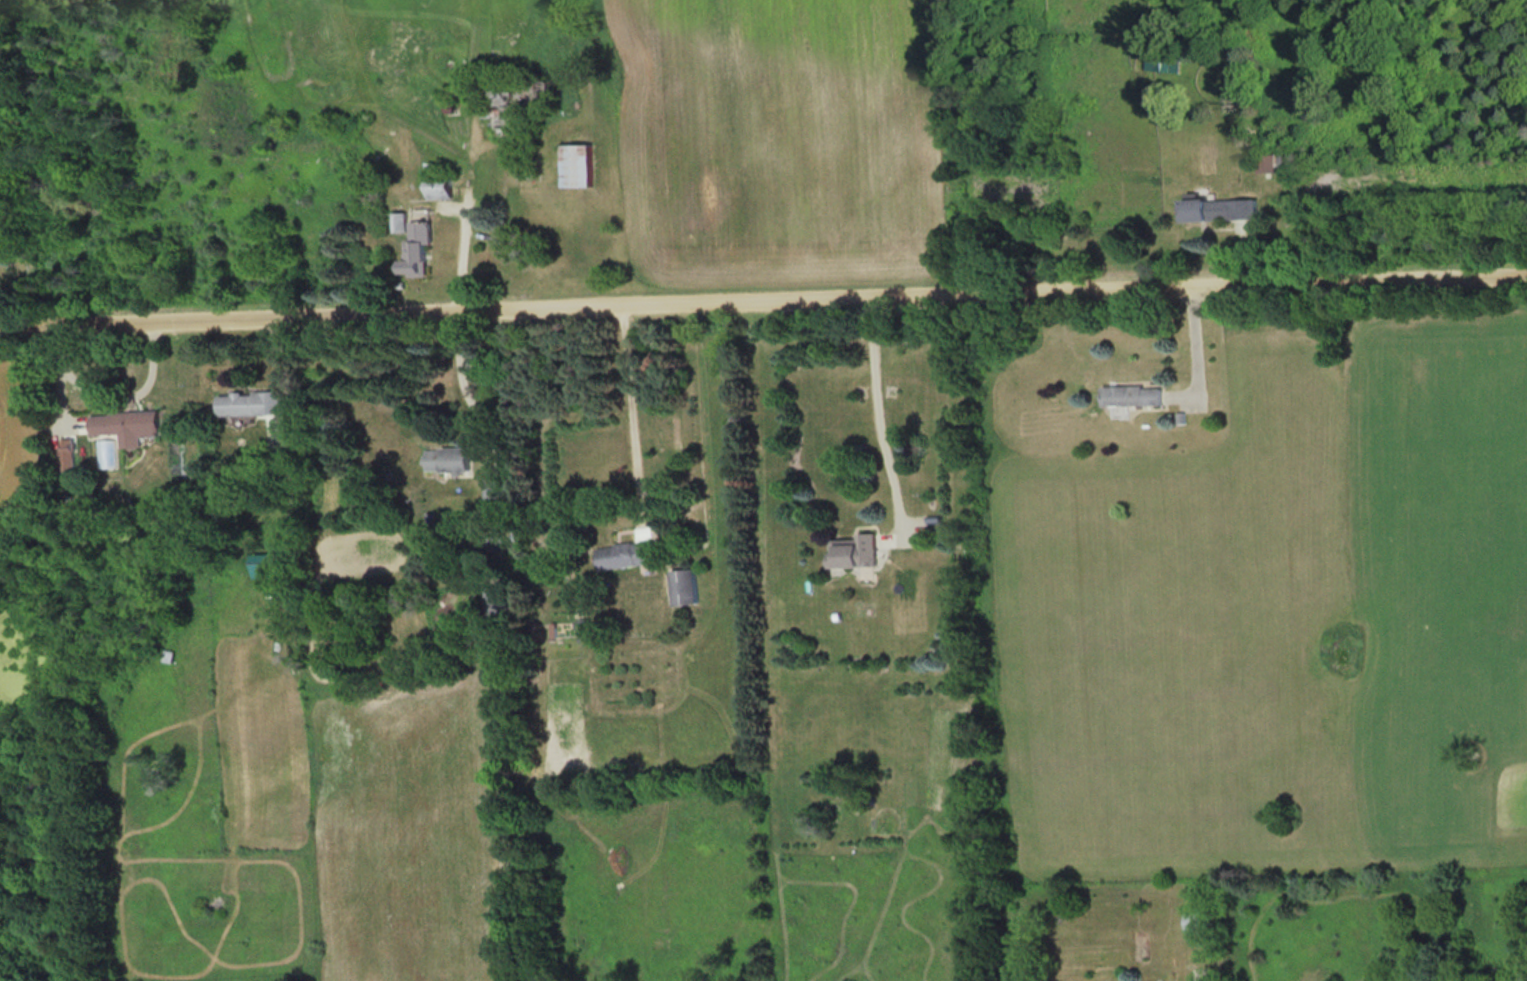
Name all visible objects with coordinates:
building: (1161, 62)
building: (513, 102)
building: (1269, 162)
building: (577, 164)
building: (439, 179)
building: (1219, 208)
building: (400, 221)
road: (467, 243)
building: (417, 247)
road: (763, 291)
road: (1189, 334)
road: (465, 383)
building: (1131, 393)
building: (249, 402)
road: (631, 403)
road: (868, 419)
building: (126, 424)
building: (447, 458)
building: (497, 492)
building: (853, 550)
building: (625, 553)
building: (267, 563)
building: (682, 585)
building: (496, 599)
building: (584, 628)
building: (168, 654)
building: (1199, 920)

